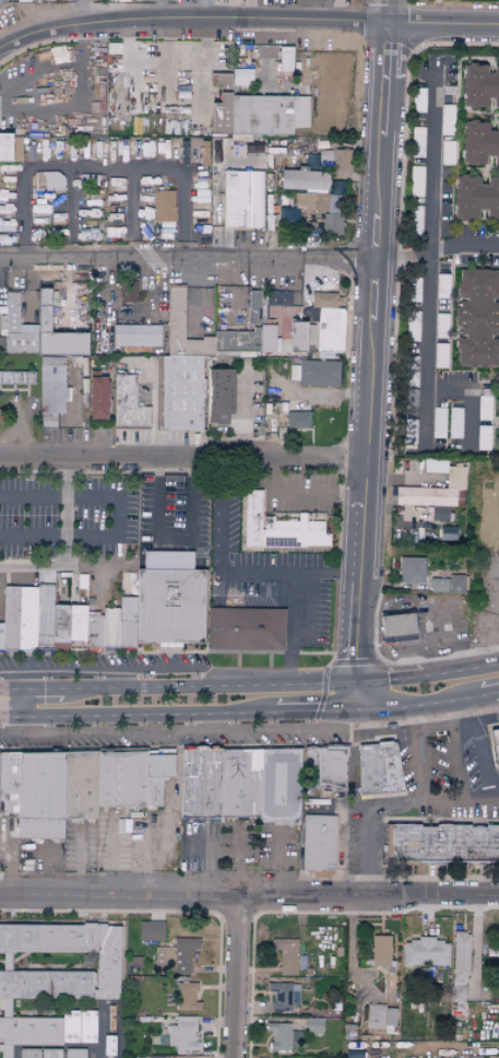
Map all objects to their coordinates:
road: (249, 10)
parking lot: (13, 16)
road: (247, 20)
road: (166, 61)
building: (286, 61)
road: (41, 75)
building: (241, 77)
building: (480, 86)
building: (254, 113)
building: (479, 143)
building: (10, 149)
building: (342, 161)
road: (103, 168)
building: (308, 175)
building: (49, 186)
building: (242, 199)
building: (475, 199)
building: (164, 207)
building: (322, 209)
road: (433, 250)
road: (186, 259)
road: (428, 259)
road: (33, 289)
building: (128, 291)
road: (238, 293)
building: (278, 297)
building: (253, 306)
building: (476, 316)
building: (329, 320)
building: (37, 329)
building: (136, 334)
building: (297, 334)
building: (243, 340)
building: (1, 343)
road: (366, 356)
building: (181, 368)
building: (316, 372)
building: (16, 377)
building: (50, 387)
building: (218, 393)
building: (96, 396)
road: (470, 398)
building: (128, 403)
building: (497, 405)
road: (241, 416)
building: (298, 419)
building: (497, 437)
road: (180, 460)
building: (433, 489)
road: (299, 494)
road: (157, 505)
road: (66, 512)
road: (117, 517)
building: (278, 527)
road: (33, 567)
building: (411, 569)
road: (250, 575)
building: (459, 583)
building: (438, 584)
building: (111, 610)
building: (396, 627)
building: (245, 628)
road: (292, 631)
road: (441, 637)
road: (460, 668)
road: (111, 671)
road: (387, 677)
road: (119, 680)
road: (24, 681)
traffic signals: (352, 681)
road: (207, 686)
road: (45, 689)
road: (12, 690)
traffic signals: (25, 690)
road: (497, 694)
road: (488, 696)
road: (21, 704)
road: (415, 708)
traffic signals: (349, 714)
road: (312, 715)
road: (145, 716)
road: (449, 717)
road: (8, 718)
traffic signals: (16, 718)
road: (15, 726)
road: (177, 731)
road: (368, 731)
road: (431, 731)
building: (495, 743)
road: (484, 752)
road: (415, 757)
building: (325, 765)
road: (459, 766)
building: (378, 767)
building: (239, 783)
building: (76, 785)
road: (390, 807)
building: (318, 842)
building: (441, 842)
road: (110, 857)
road: (338, 857)
road: (78, 861)
road: (9, 865)
road: (249, 900)
building: (150, 930)
building: (380, 950)
building: (425, 952)
building: (286, 954)
building: (175, 956)
building: (134, 963)
building: (54, 974)
building: (461, 975)
road: (234, 979)
building: (284, 995)
building: (187, 997)
building: (380, 1018)
building: (313, 1025)
building: (79, 1026)
building: (183, 1034)
building: (282, 1036)
building: (39, 1053)
building: (74, 1053)

